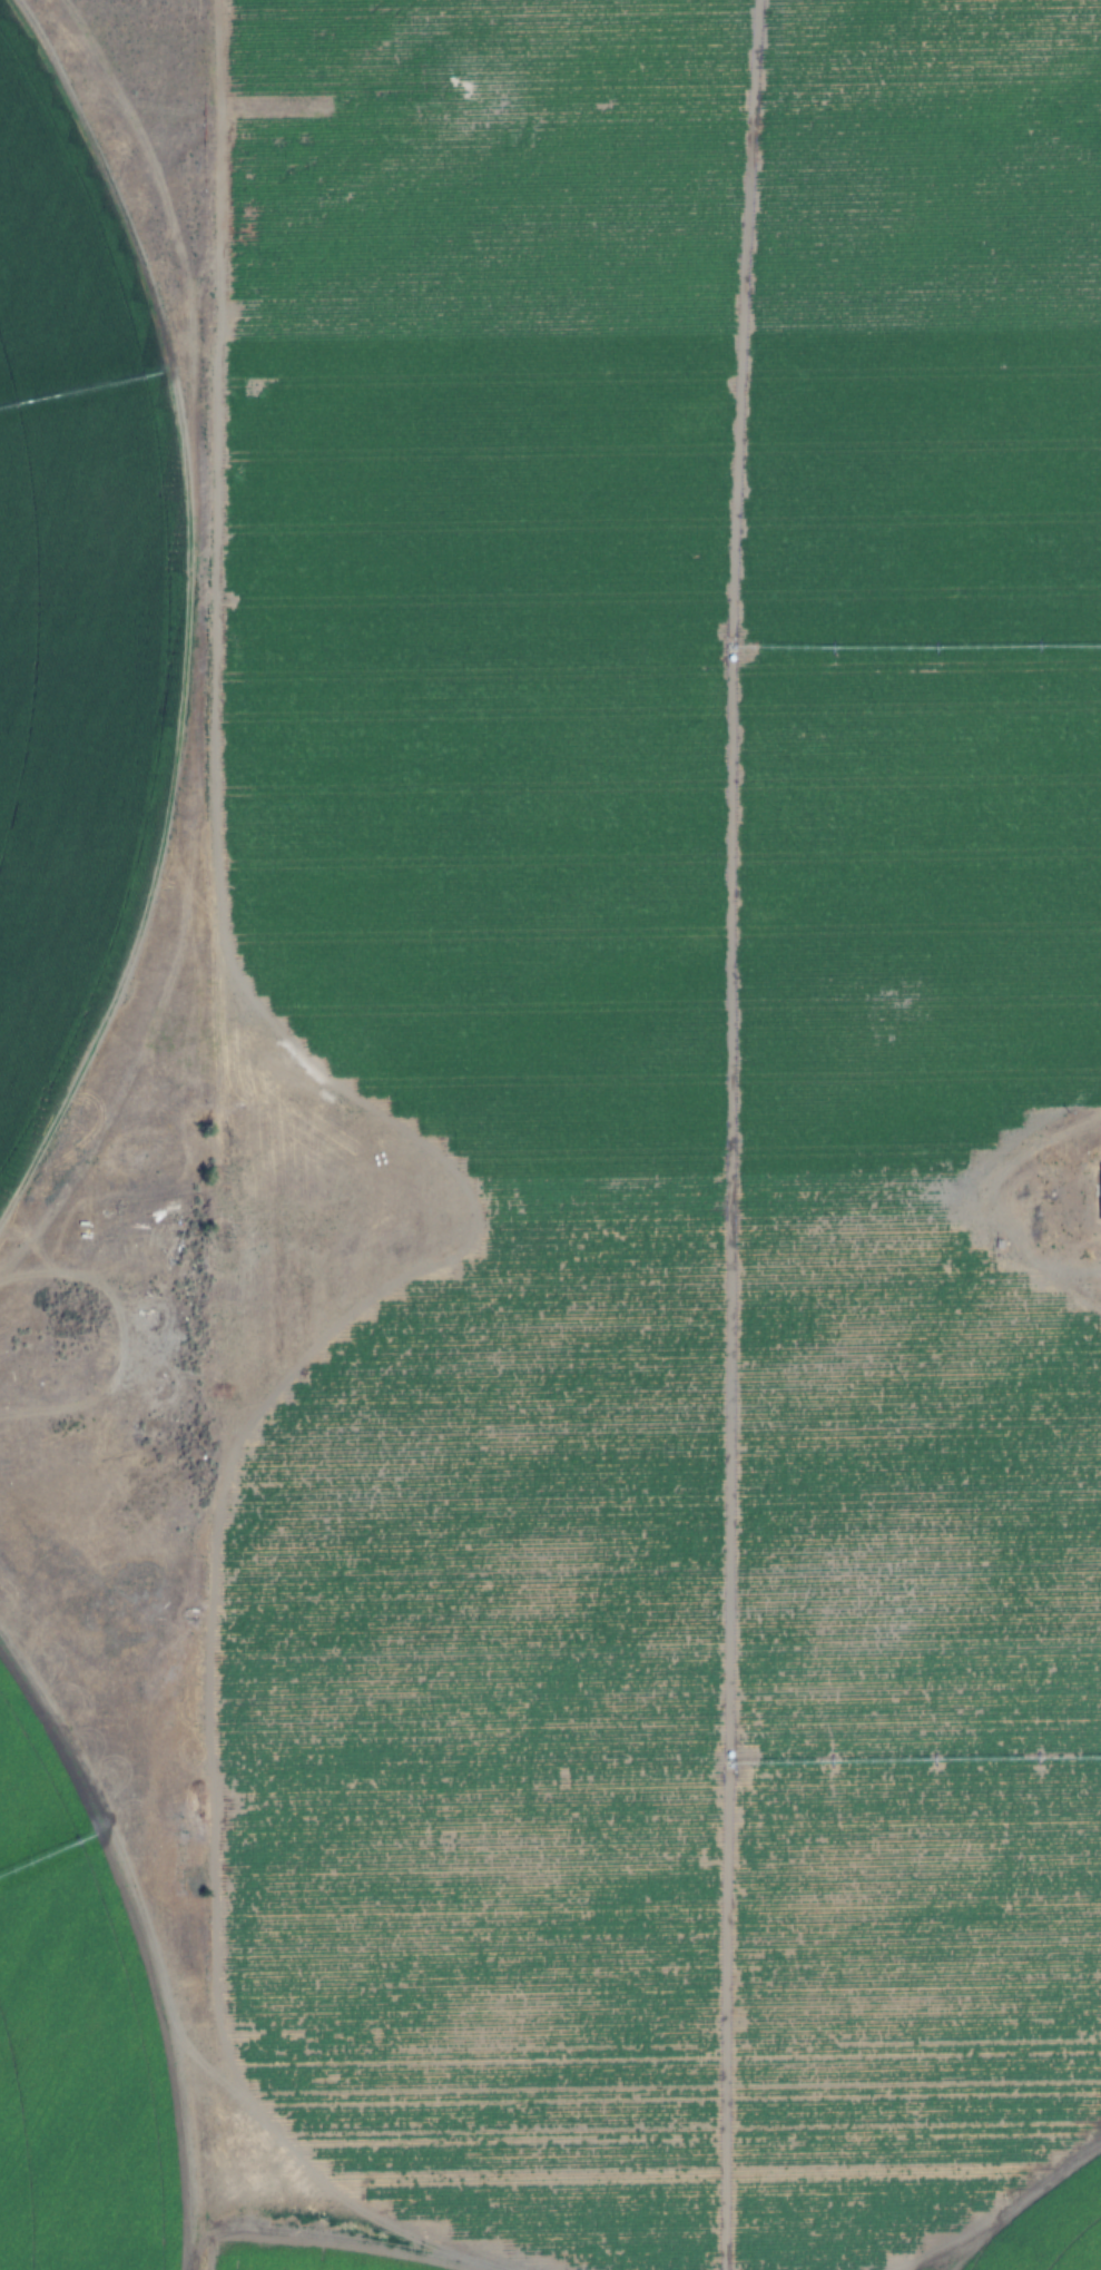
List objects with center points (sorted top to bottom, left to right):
crop: (67, 598)
crop: (681, 605)
building: (1100, 1191)

